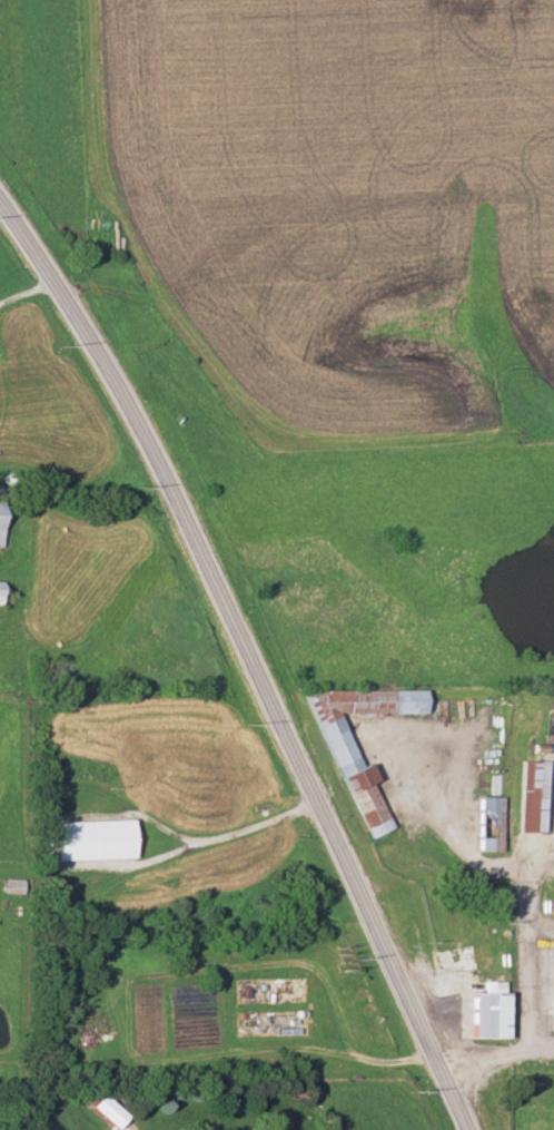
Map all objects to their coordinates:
road: (28, 293)
road: (161, 464)
building: (337, 740)
building: (532, 796)
building: (491, 824)
road: (229, 836)
building: (90, 841)
road: (386, 941)
building: (452, 960)
building: (551, 985)
building: (487, 1012)
building: (103, 1110)
building: (244, 1129)

